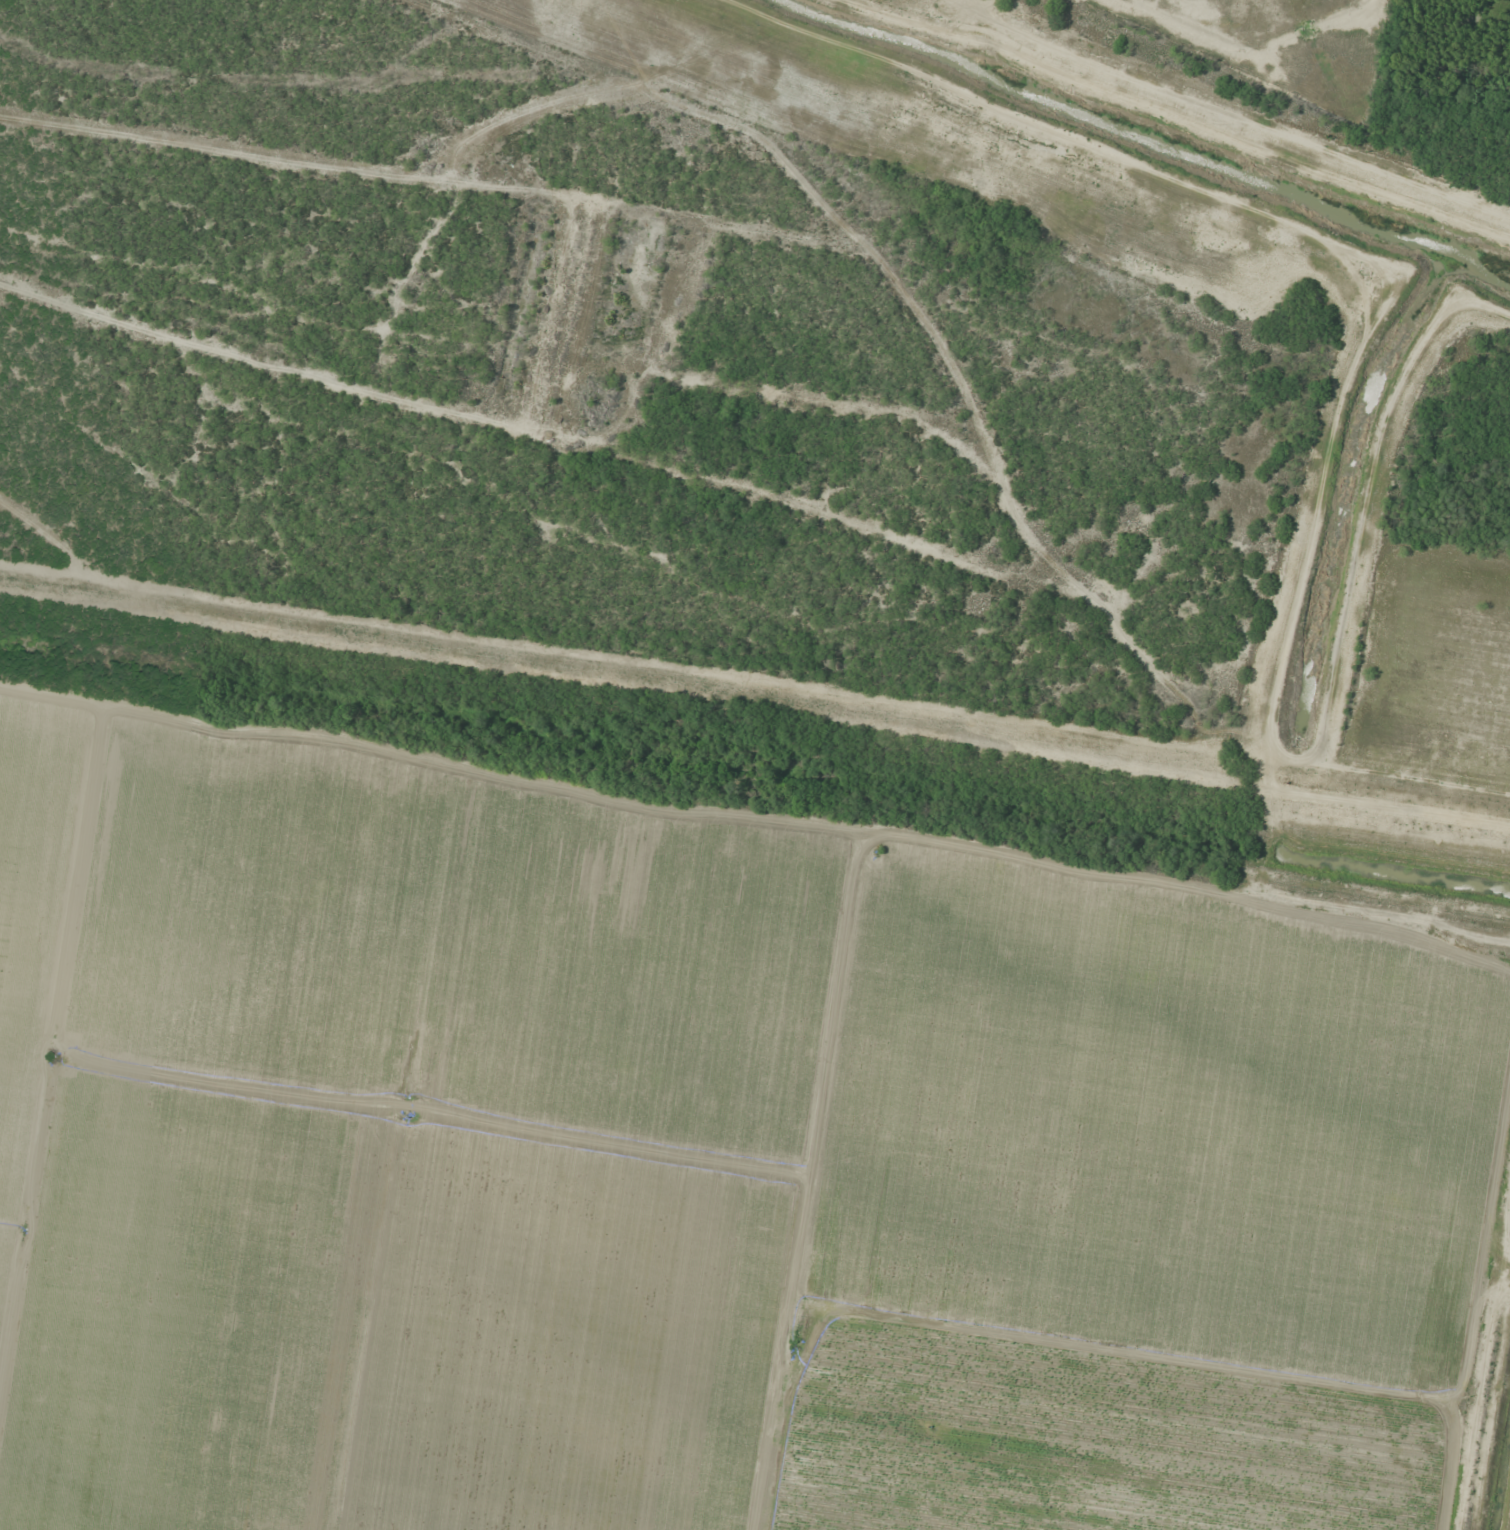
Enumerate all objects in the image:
river: (1129, 128)
river: (1488, 263)

